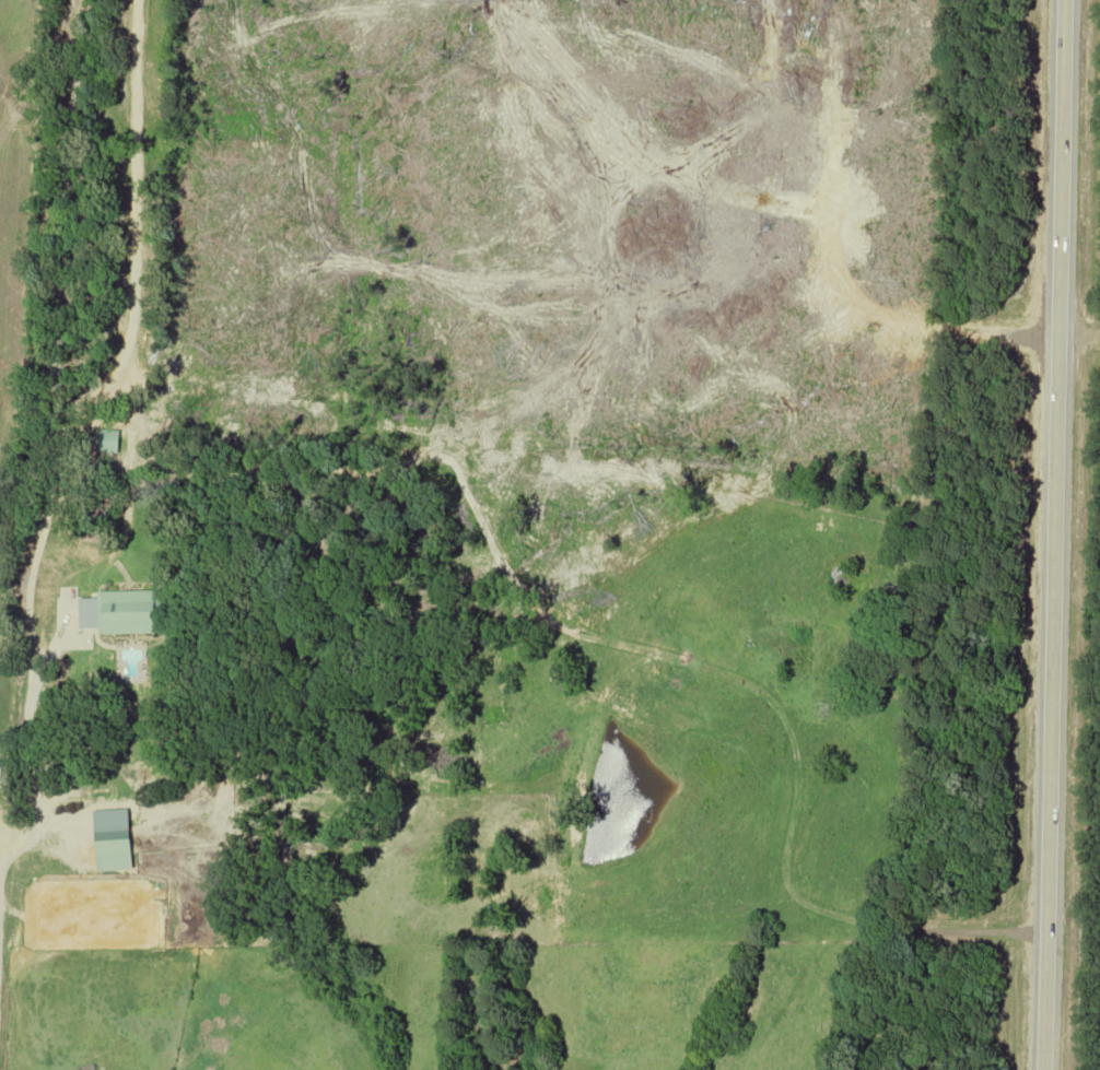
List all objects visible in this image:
building: (106, 442)
road: (1052, 534)
building: (130, 613)
building: (115, 842)

